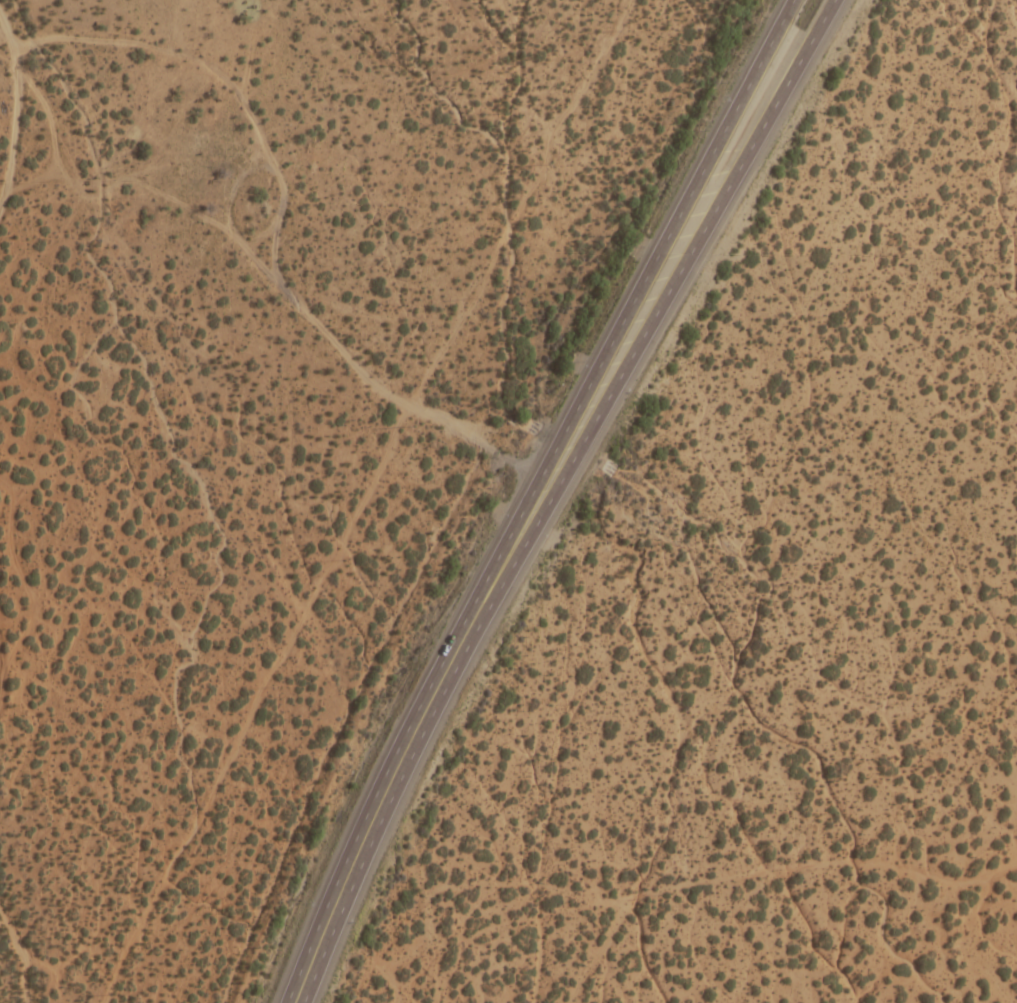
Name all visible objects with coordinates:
road: (637, 289)
road: (665, 293)
road: (366, 501)
building: (1015, 622)
road: (385, 789)
building: (230, 790)
road: (663, 906)

